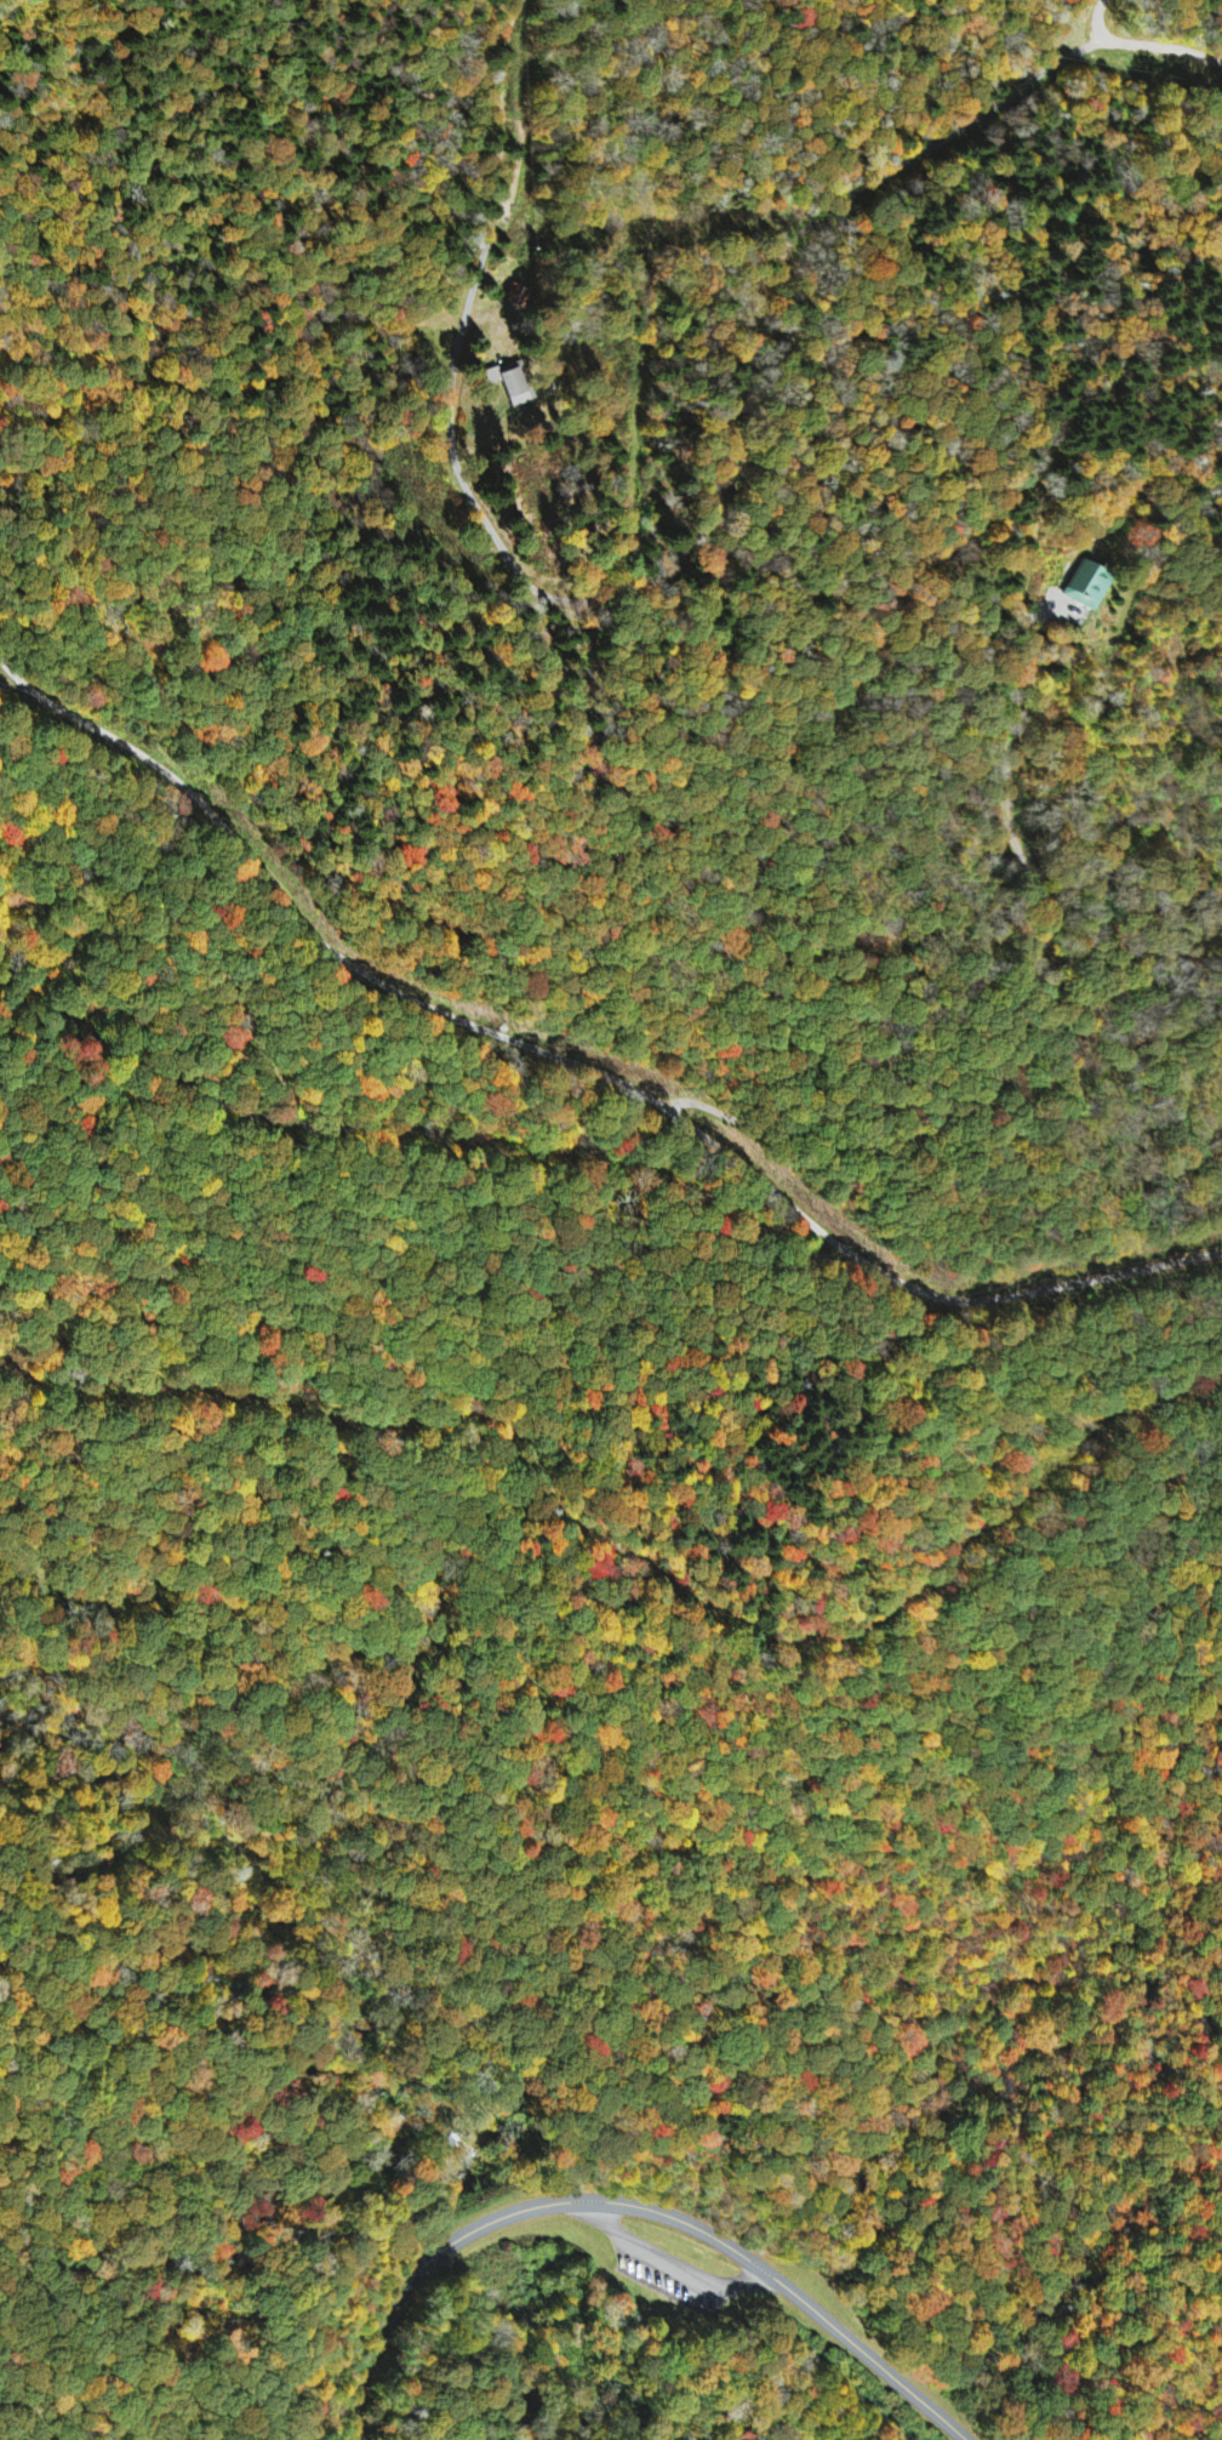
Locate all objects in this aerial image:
road: (1101, 19)
road: (1167, 45)
road: (659, 575)
building: (1077, 593)
road: (577, 1061)
road: (435, 1133)
road: (904, 1598)
road: (482, 1997)
road: (490, 2091)
road: (630, 2201)
parking lot: (670, 2269)
road: (670, 2269)
road: (720, 2307)

